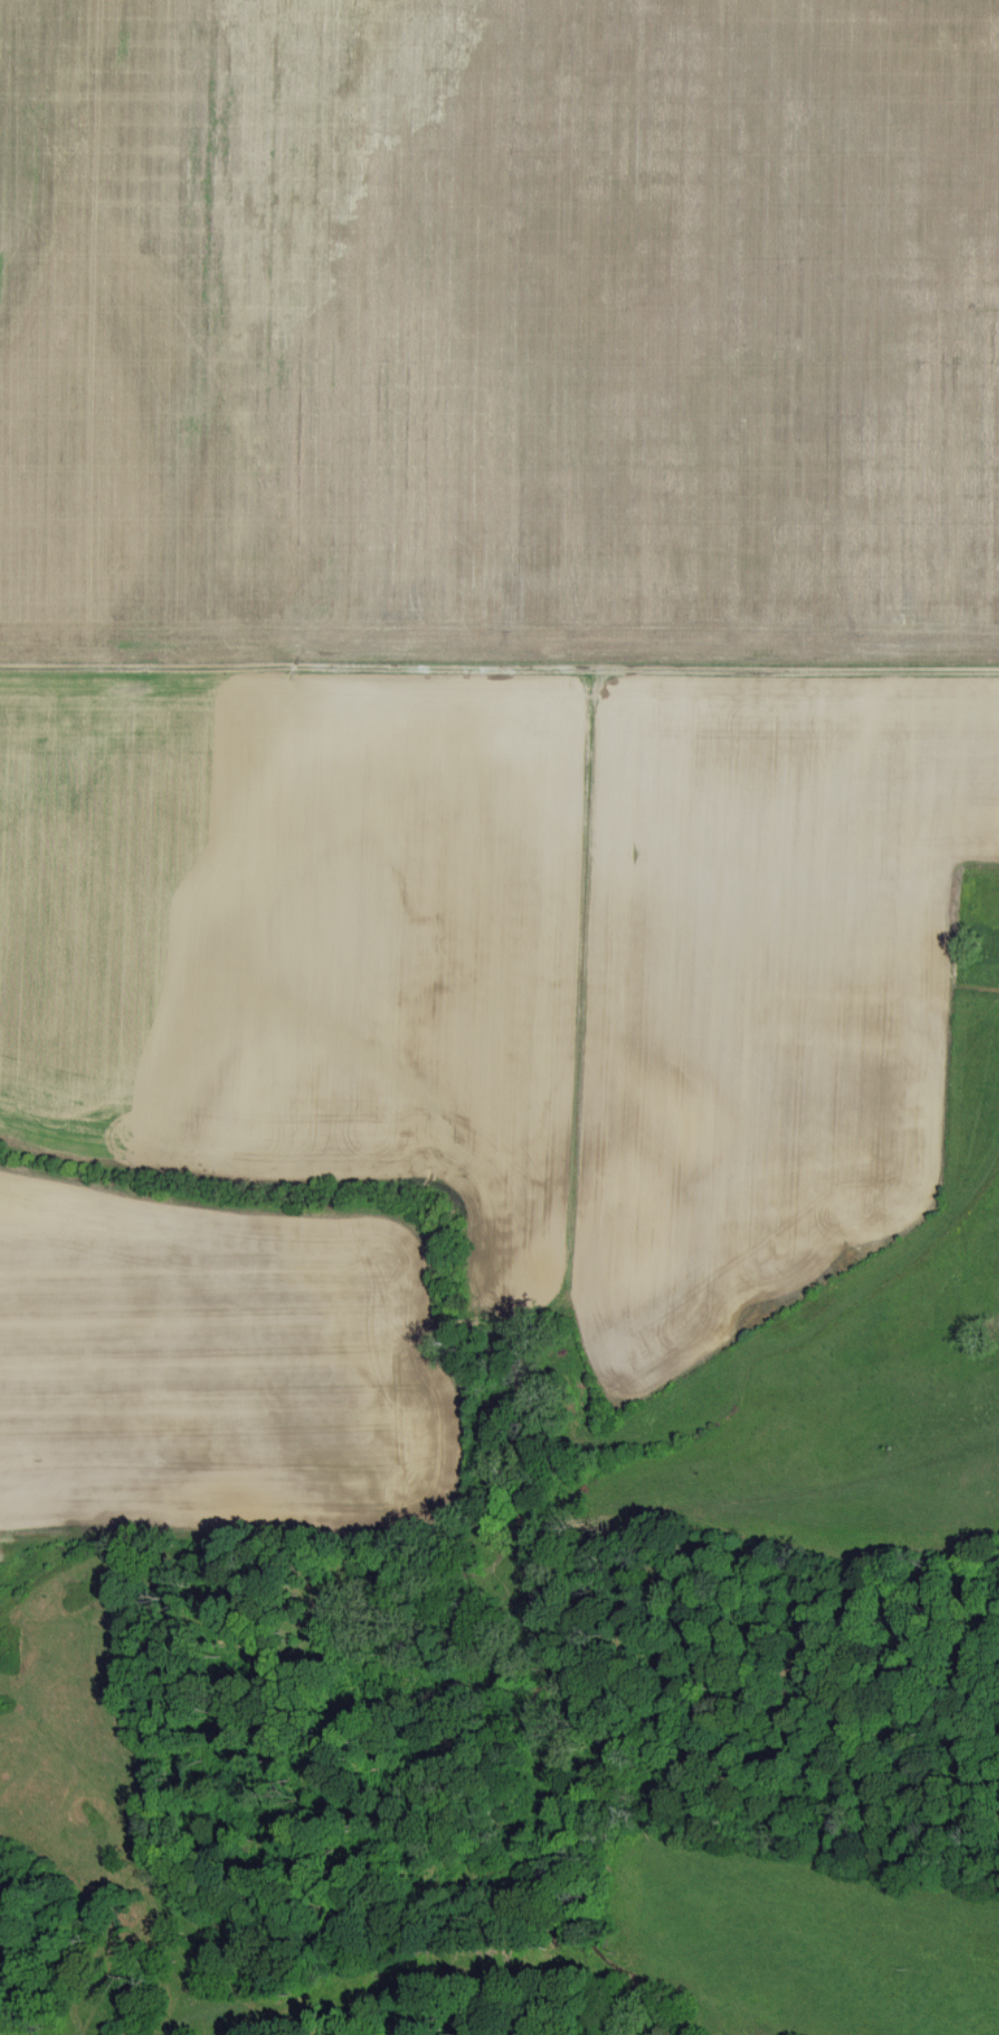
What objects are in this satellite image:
road: (499, 665)

